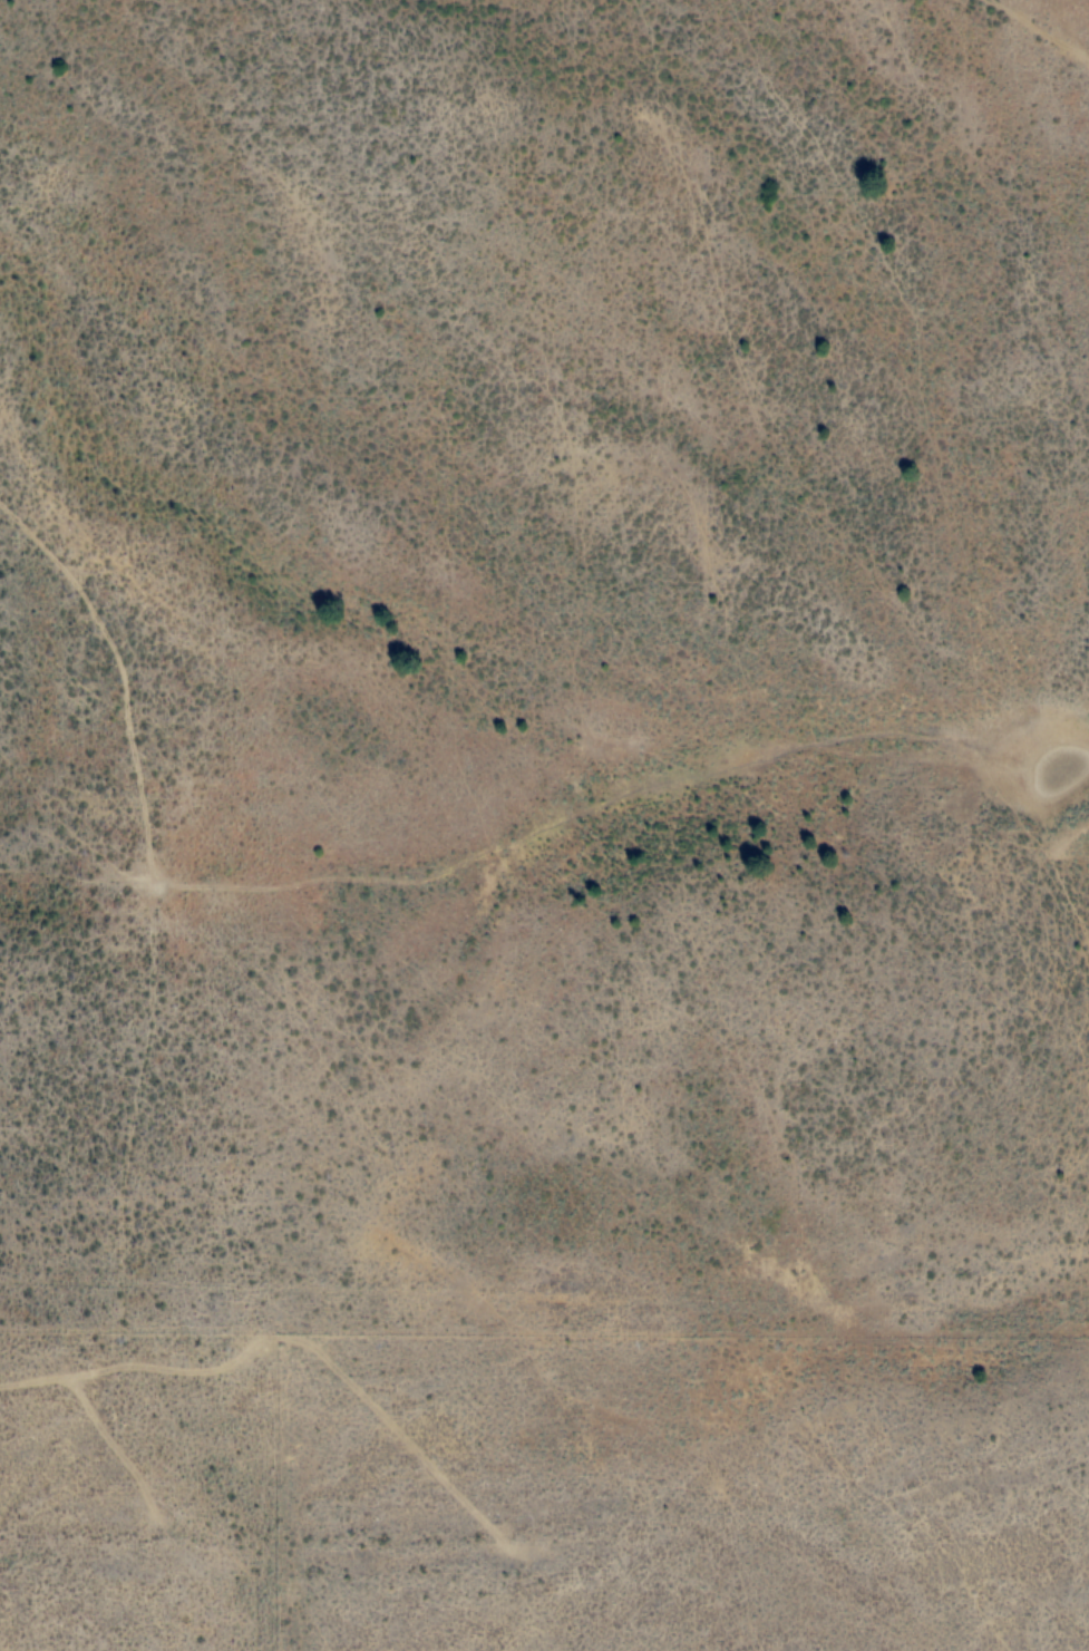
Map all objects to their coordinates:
road: (975, 46)

